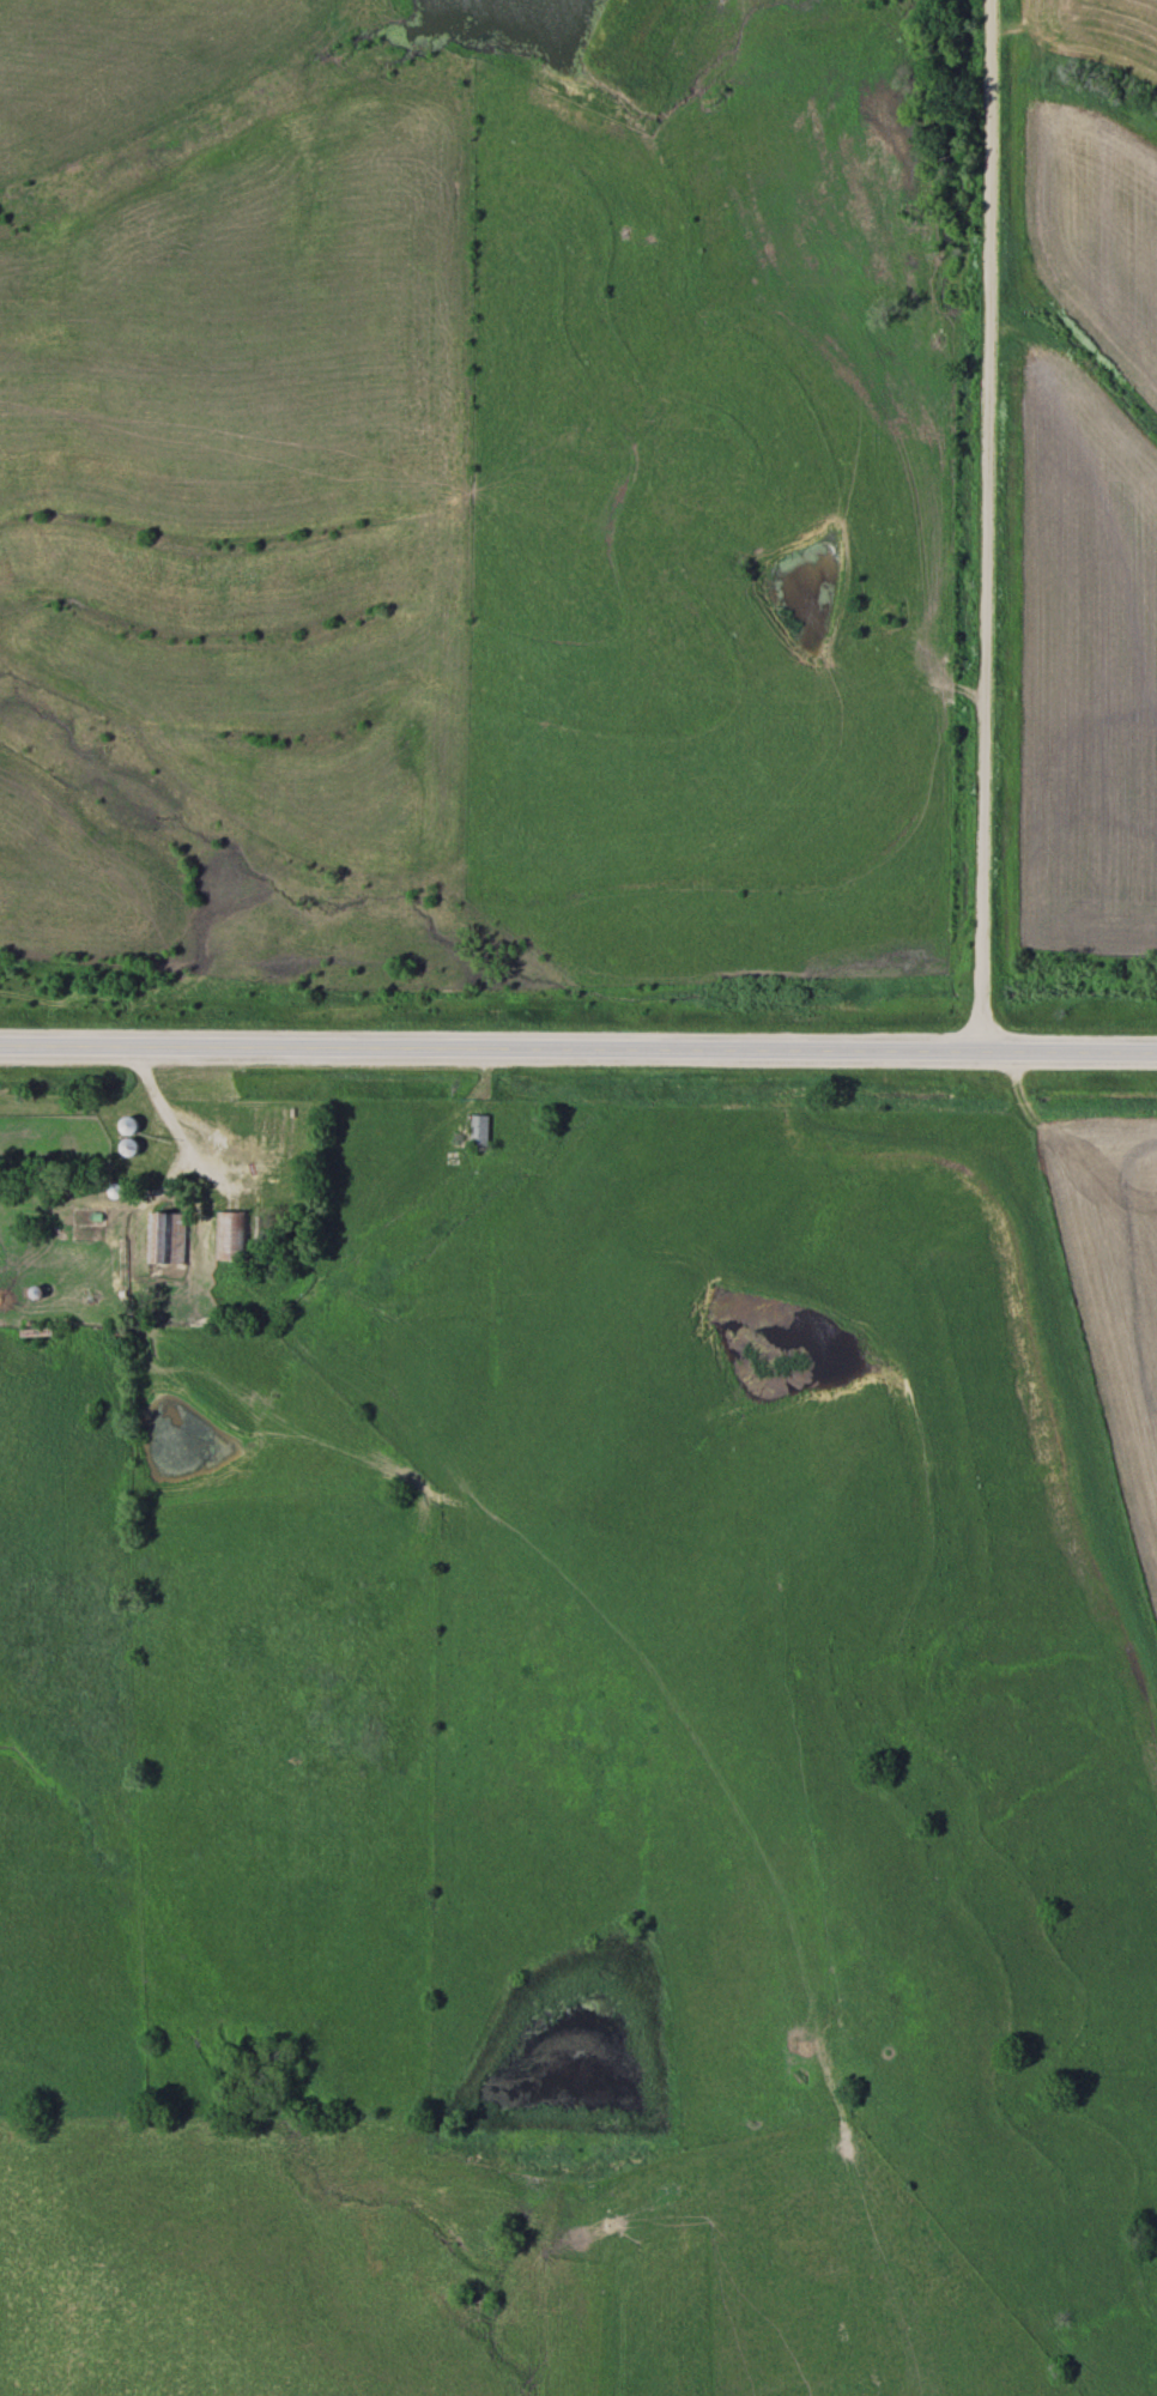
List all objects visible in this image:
road: (986, 522)
road: (578, 1043)
road: (164, 1108)
building: (122, 1129)
building: (475, 1131)
building: (265, 1139)
building: (123, 1148)
building: (228, 1238)
building: (163, 1239)

